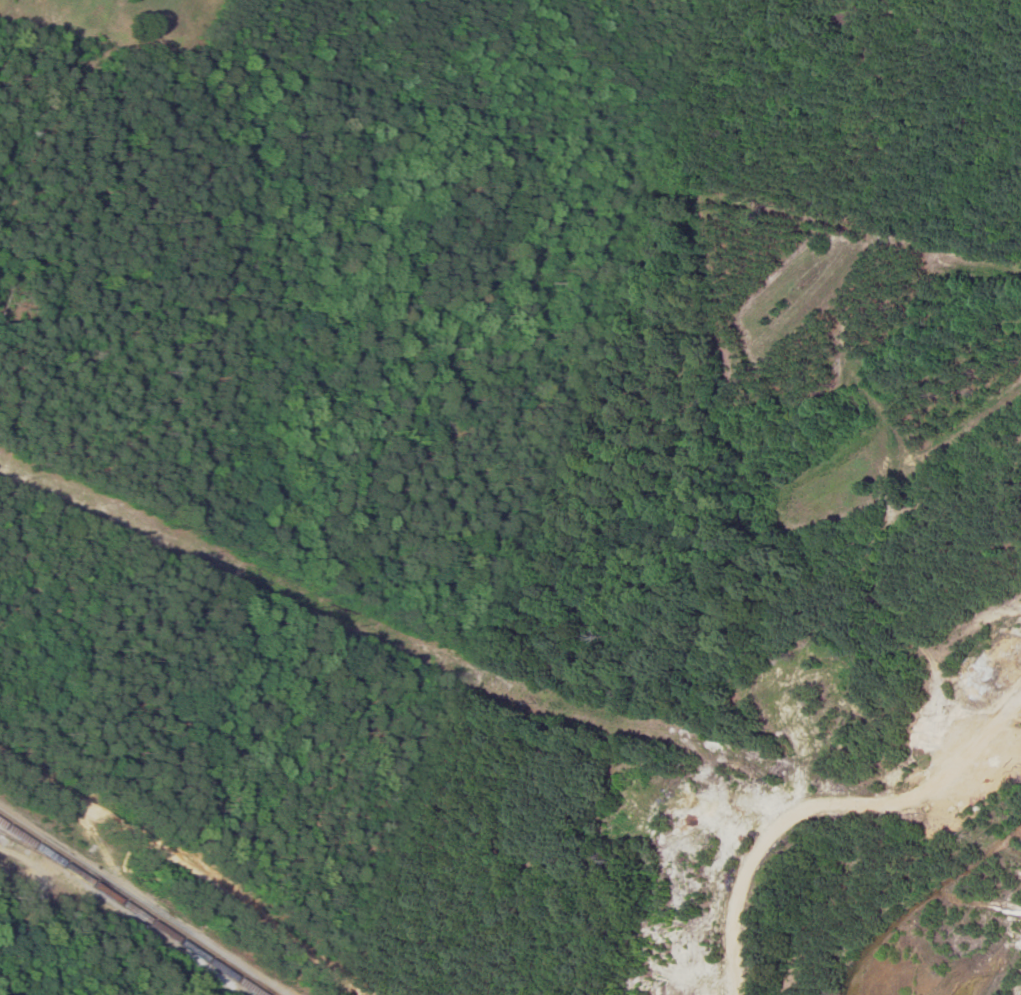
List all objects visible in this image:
railway: (29, 845)
railway: (139, 902)
railway: (130, 907)
railway: (216, 960)

